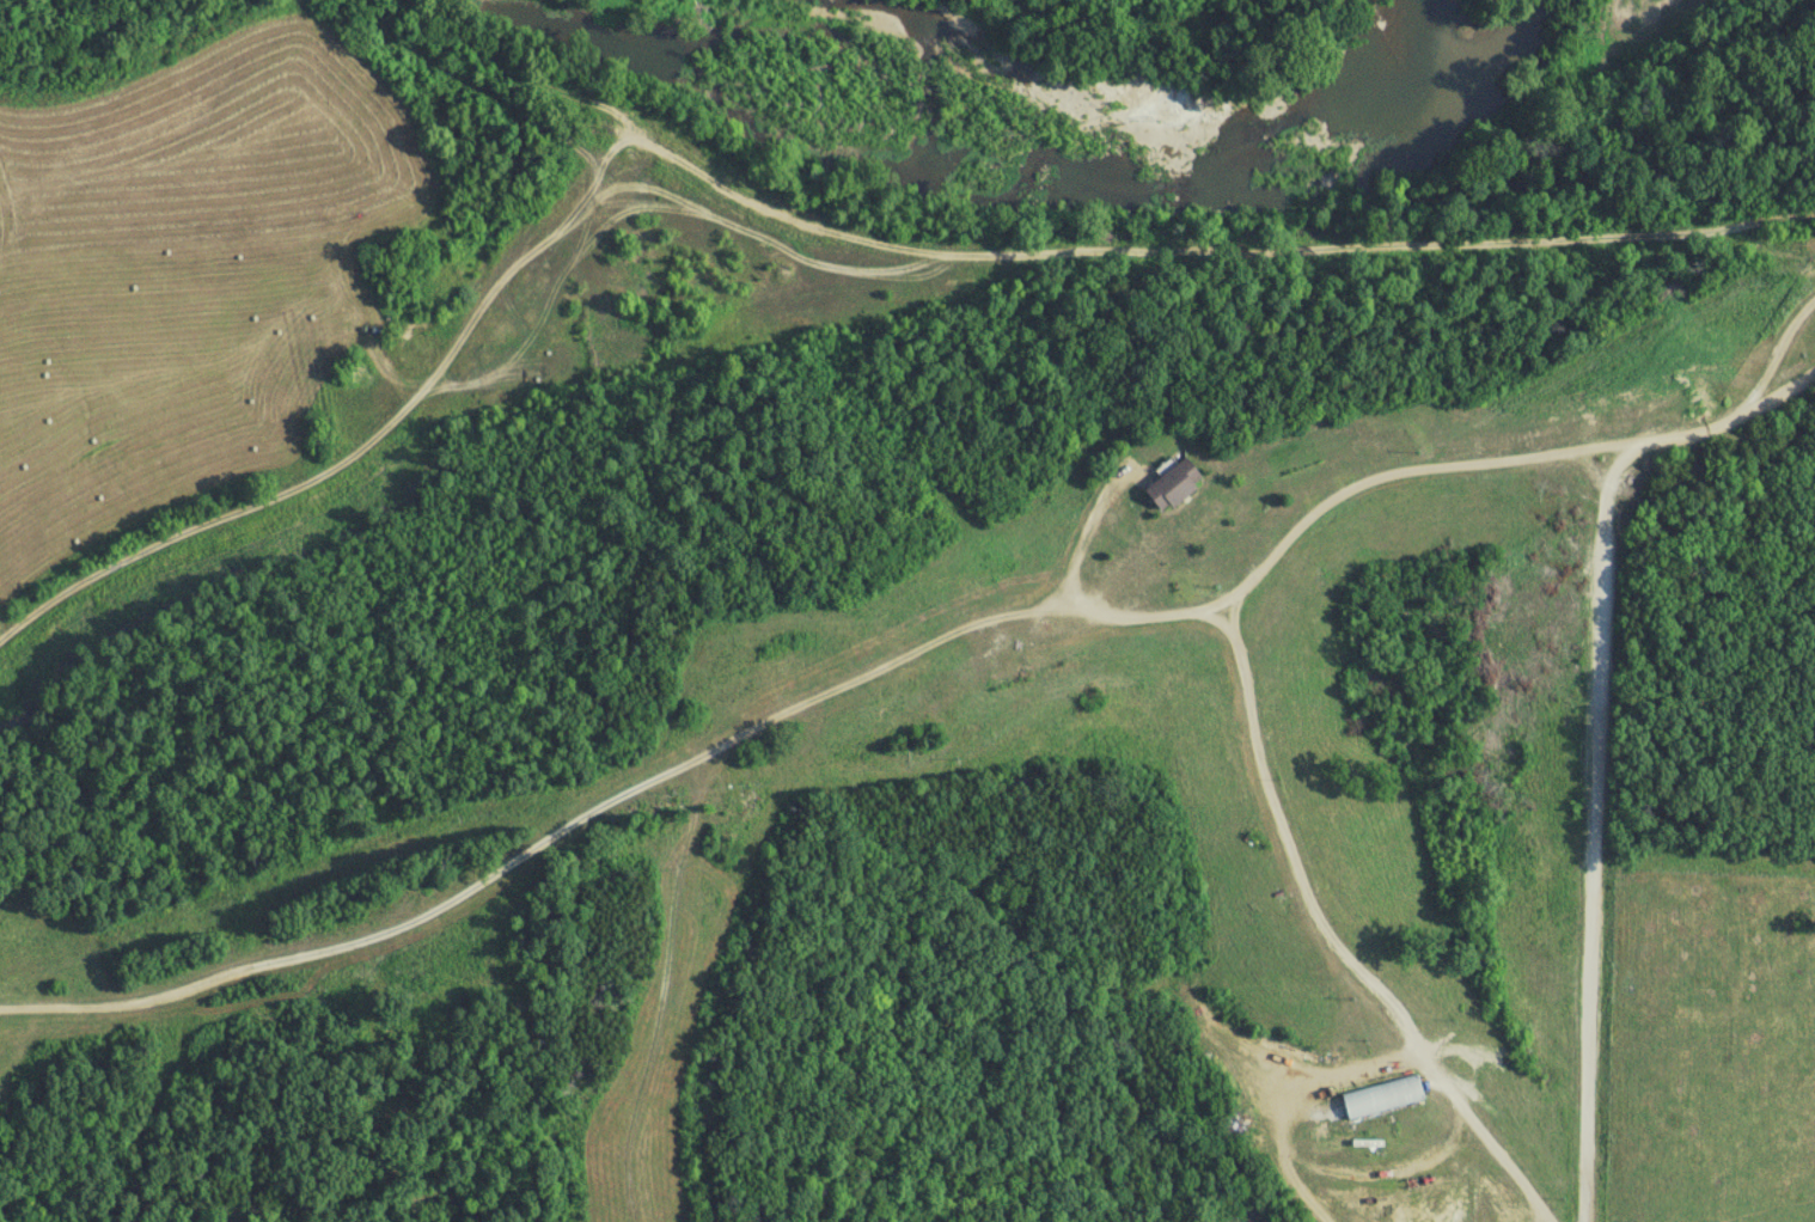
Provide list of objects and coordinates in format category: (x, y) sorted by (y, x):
river: (1002, 189)
road: (1187, 259)
road: (373, 451)
road: (1501, 460)
building: (1175, 487)
road: (605, 805)
road: (1593, 833)
road: (1327, 931)
building: (1385, 1099)

